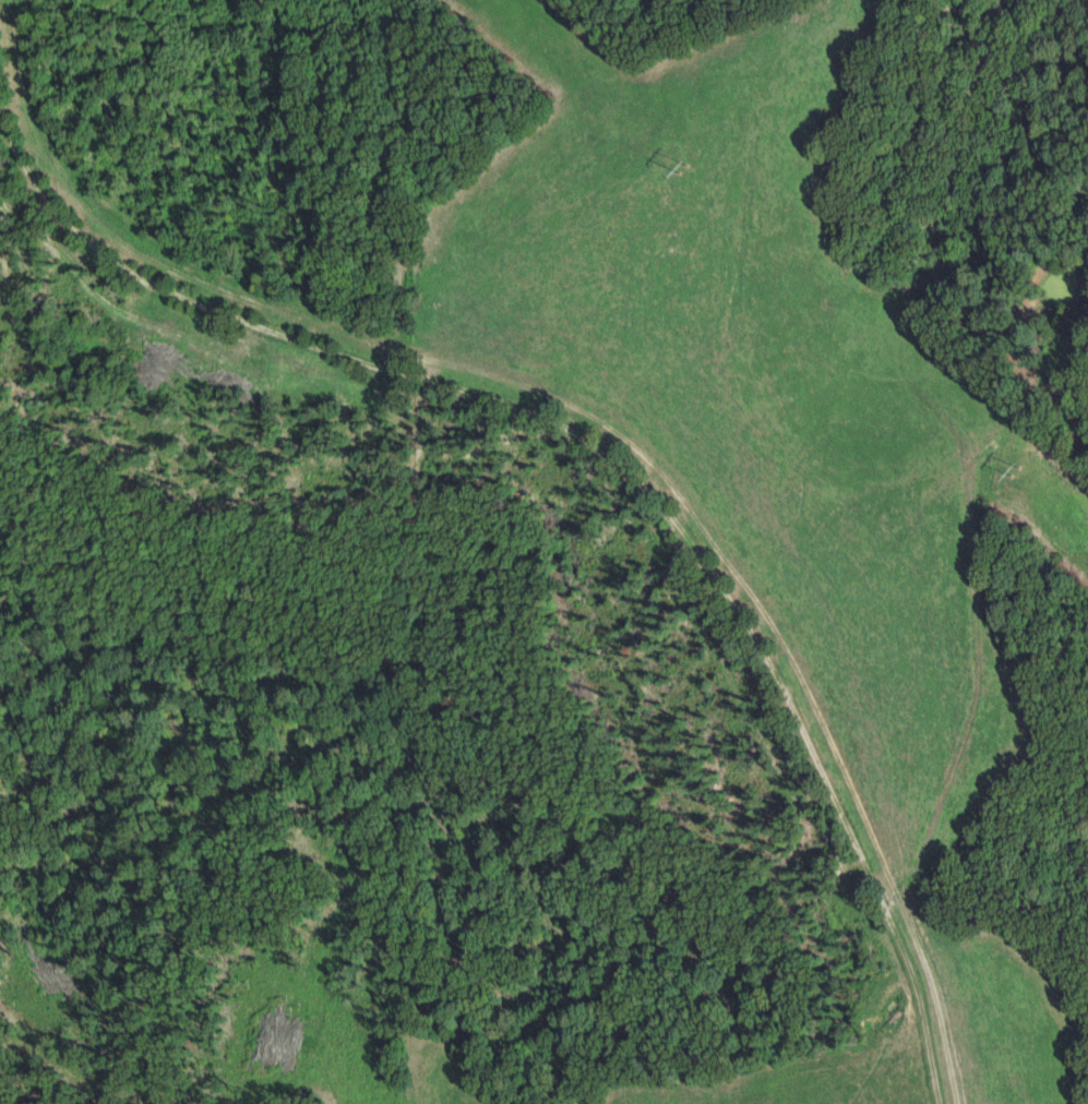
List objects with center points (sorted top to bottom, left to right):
power tower: (686, 171)
road: (397, 188)
power tower: (1014, 472)
road: (760, 661)

